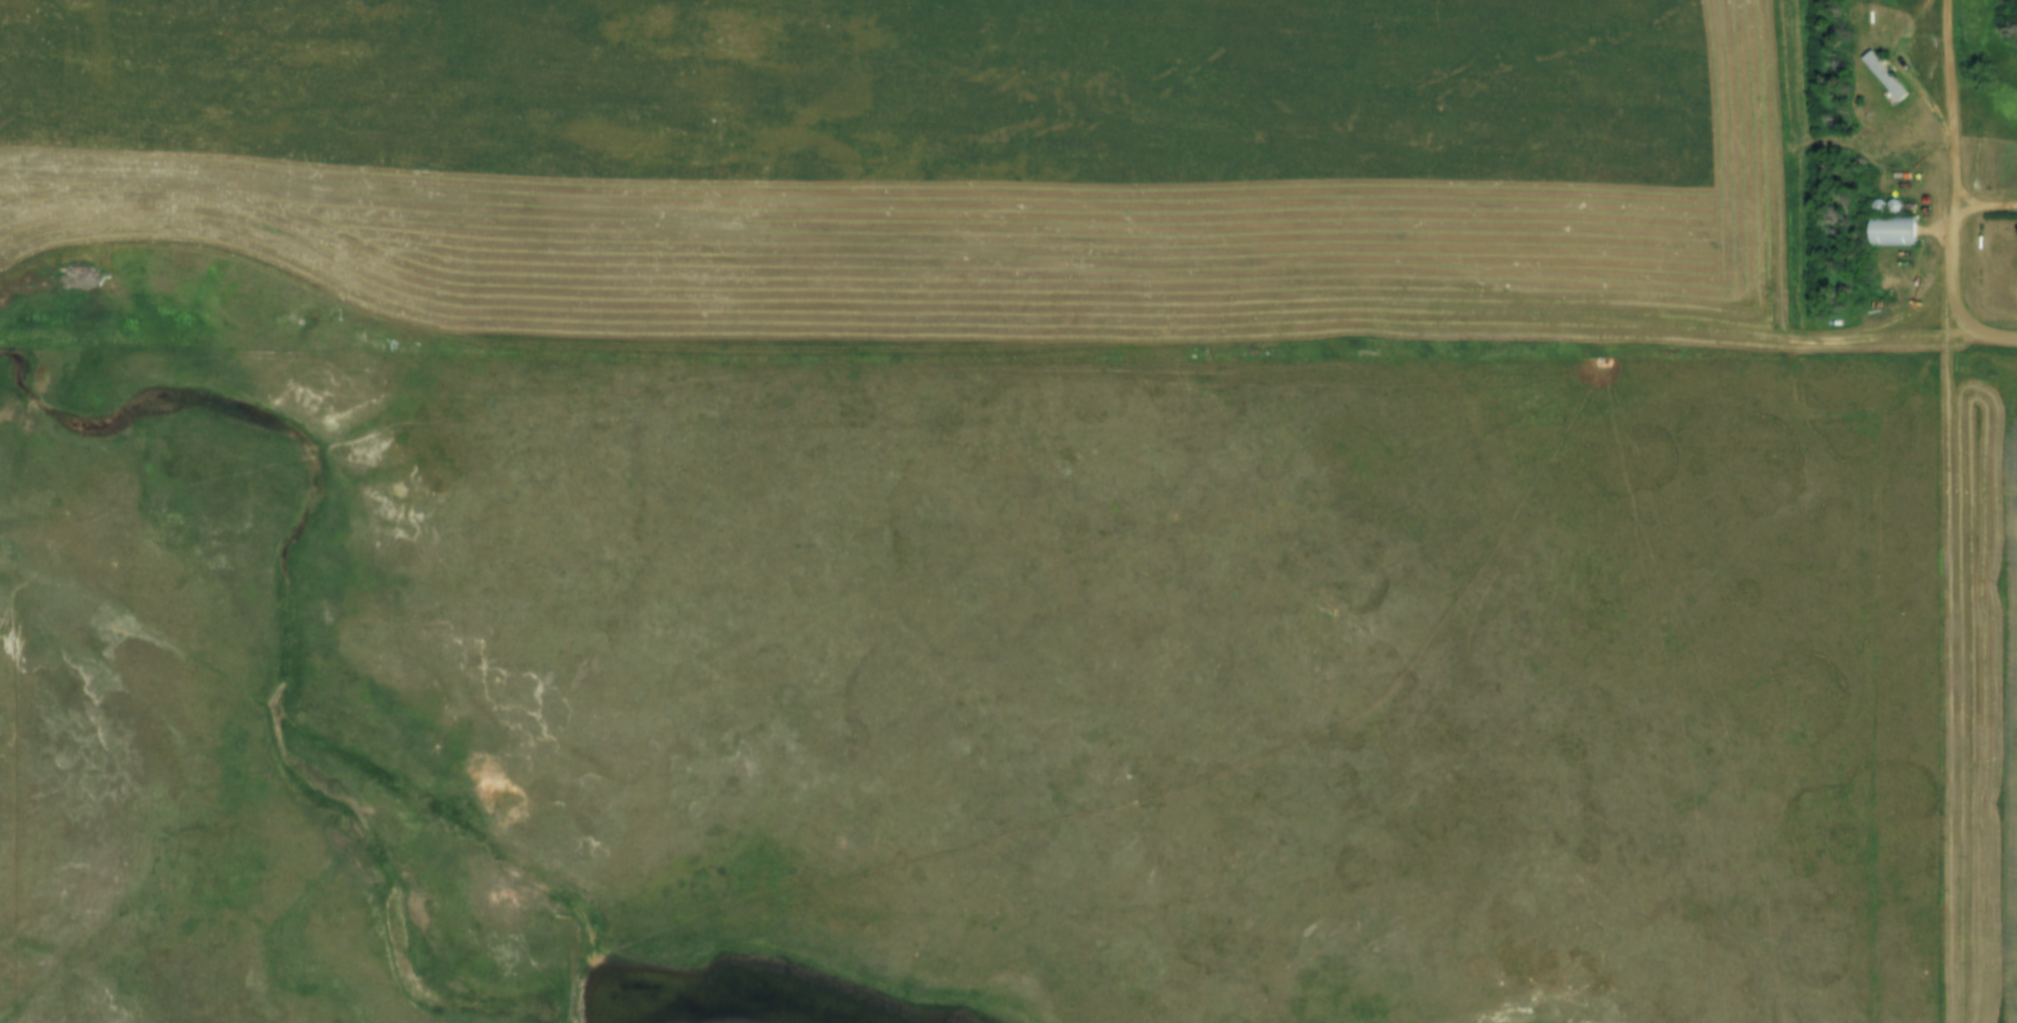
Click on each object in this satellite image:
road: (1910, 67)
building: (1886, 74)
road: (1953, 170)
airport runway: (842, 179)
road: (1984, 203)
building: (1892, 229)
road: (1776, 274)
road: (1997, 335)
road: (1975, 678)

